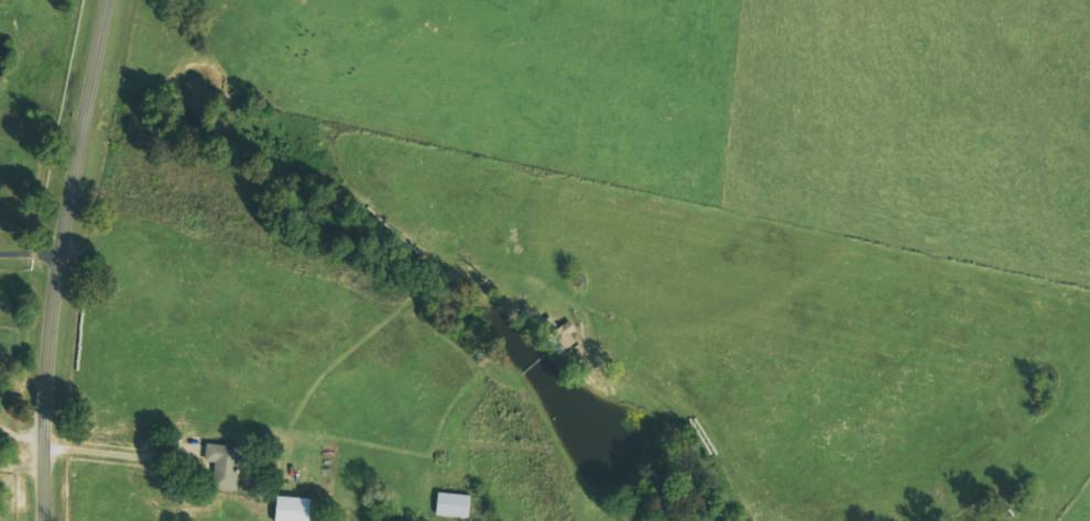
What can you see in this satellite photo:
road: (64, 258)
building: (565, 335)
road: (118, 448)
building: (220, 464)
building: (453, 503)
building: (292, 508)

